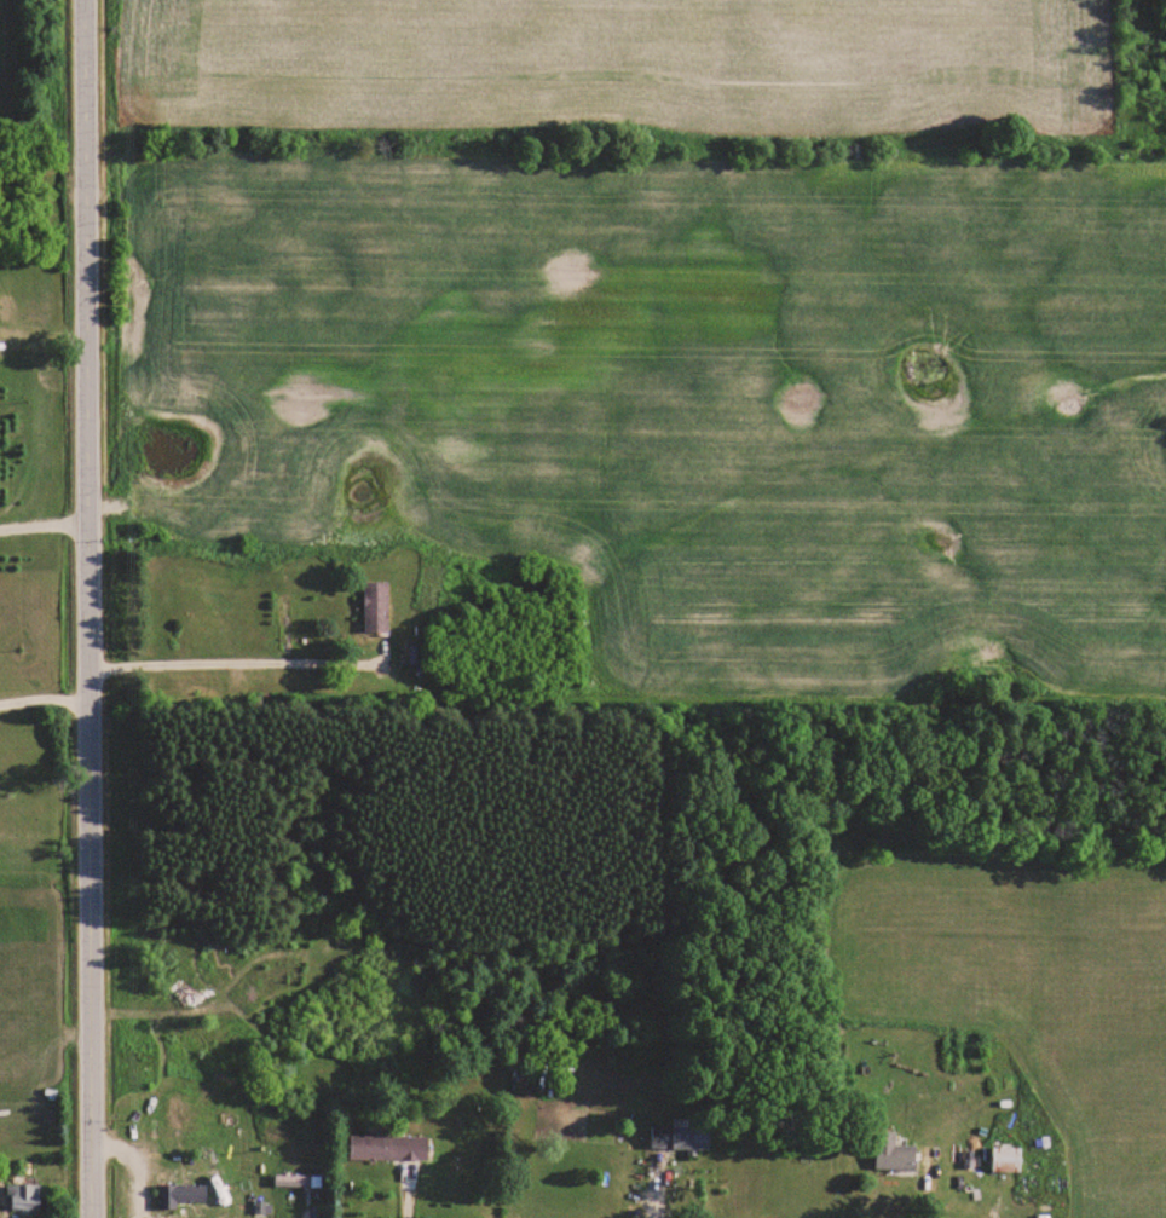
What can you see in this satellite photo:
building: (375, 606)
road: (88, 608)
building: (680, 1137)
building: (387, 1147)
building: (893, 1153)
building: (1006, 1159)
building: (300, 1181)
building: (23, 1196)
building: (178, 1196)

